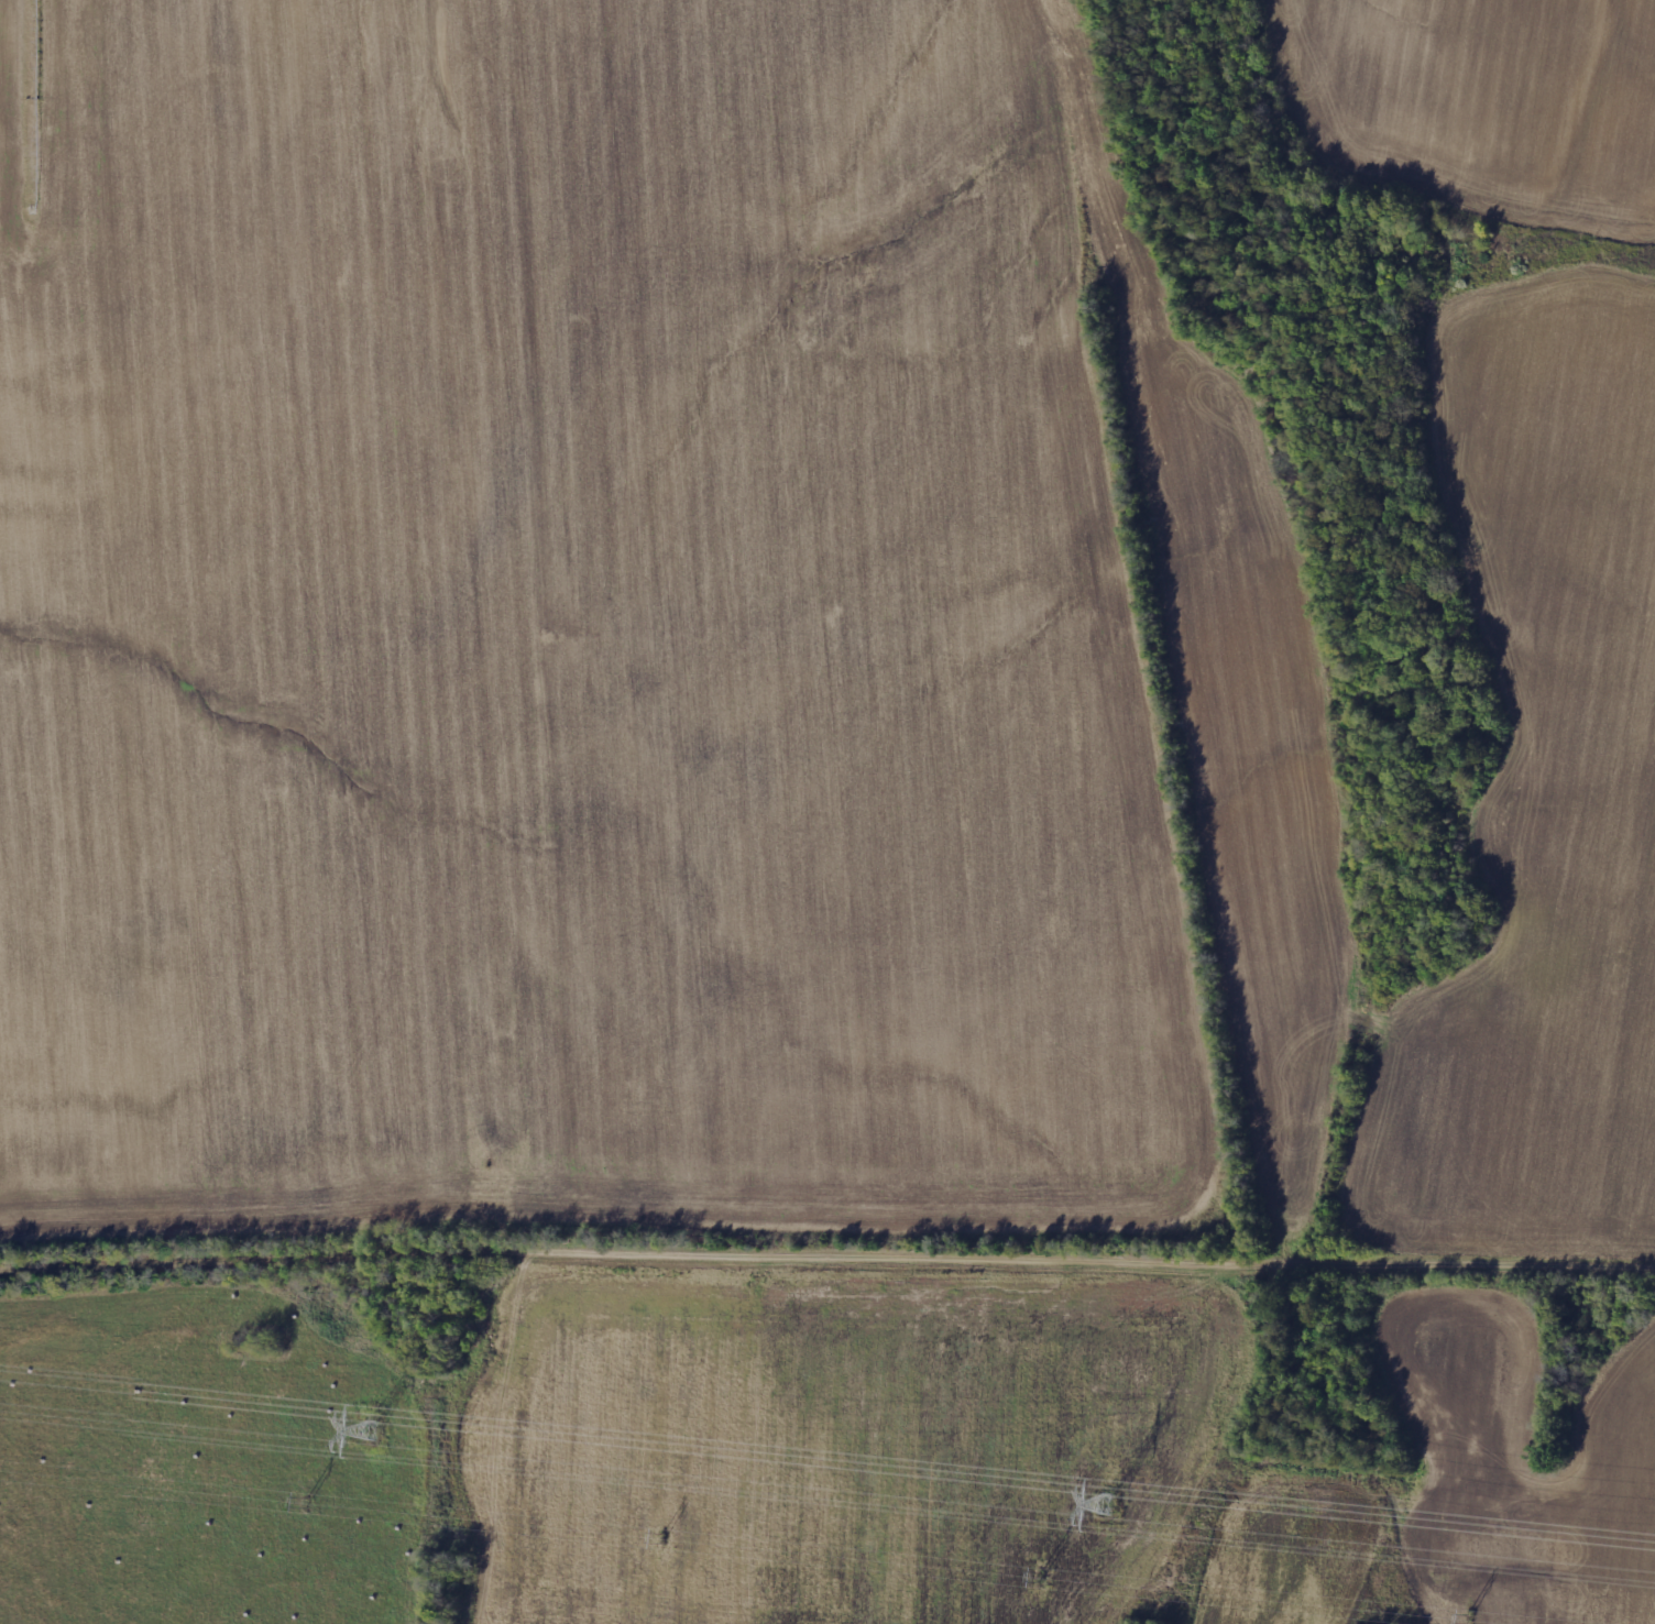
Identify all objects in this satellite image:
road: (267, 1257)
road: (1096, 1264)
power tower: (376, 1433)
power tower: (1107, 1506)

